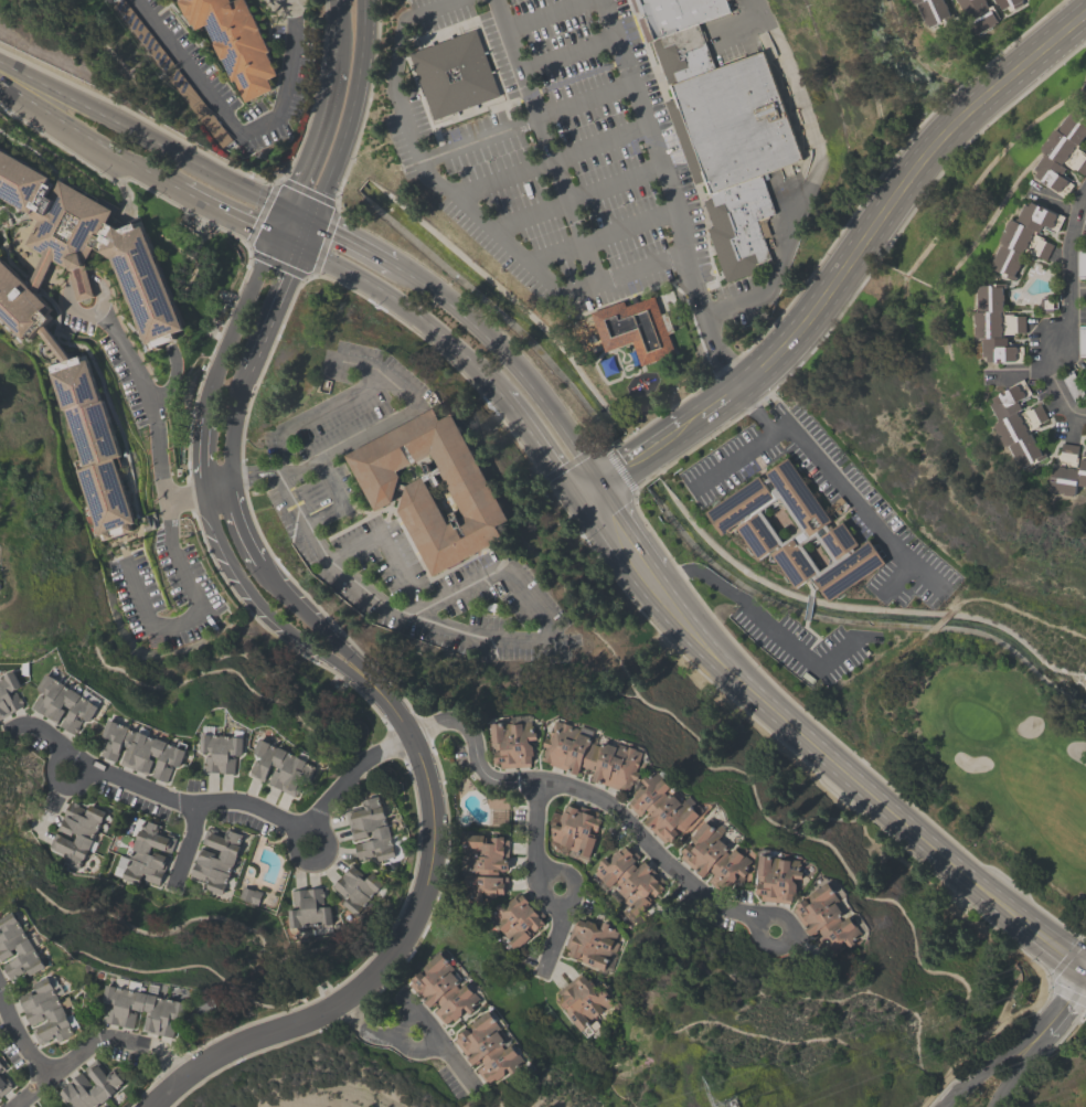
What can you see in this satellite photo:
building: (170, 0)
building: (1008, 3)
road: (437, 9)
building: (933, 11)
building: (979, 14)
road: (555, 15)
building: (675, 15)
road: (338, 33)
building: (232, 43)
road: (396, 56)
road: (569, 56)
building: (682, 56)
building: (453, 74)
building: (1083, 95)
road: (586, 103)
road: (646, 125)
building: (731, 125)
road: (345, 128)
road: (235, 131)
road: (411, 131)
road: (145, 137)
road: (86, 140)
road: (318, 141)
road: (600, 147)
building: (1062, 153)
parking lot: (563, 157)
road: (809, 175)
road: (505, 180)
road: (614, 188)
road: (449, 190)
road: (907, 190)
building: (737, 202)
traffic signals: (288, 212)
road: (226, 214)
road: (299, 217)
road: (531, 219)
traffic signals: (310, 223)
road: (281, 225)
road: (628, 226)
traffic signals: (275, 238)
building: (1023, 238)
road: (353, 242)
building: (89, 243)
road: (287, 244)
building: (738, 247)
traffic signals: (299, 249)
road: (585, 257)
road: (77, 279)
building: (79, 286)
road: (558, 291)
road: (1077, 292)
building: (18, 304)
road: (89, 310)
road: (1069, 310)
road: (406, 311)
building: (994, 324)
building: (638, 345)
road: (514, 361)
road: (174, 382)
road: (146, 397)
road: (724, 402)
road: (693, 423)
building: (1016, 424)
road: (366, 426)
building: (88, 440)
road: (540, 448)
road: (734, 457)
road: (638, 460)
building: (1067, 471)
road: (835, 479)
traffic signals: (592, 492)
road: (199, 493)
road: (231, 496)
road: (339, 496)
building: (471, 496)
road: (209, 501)
building: (754, 529)
road: (619, 533)
road: (386, 539)
road: (196, 609)
road: (403, 613)
road: (757, 617)
building: (9, 693)
building: (62, 702)
road: (397, 716)
park: (983, 739)
building: (512, 743)
building: (140, 751)
road: (1074, 752)
building: (220, 753)
road: (75, 756)
building: (590, 757)
road: (55, 763)
building: (279, 768)
road: (351, 771)
road: (858, 779)
road: (151, 791)
road: (585, 791)
building: (663, 809)
road: (535, 829)
road: (302, 830)
building: (370, 830)
building: (76, 831)
building: (574, 832)
road: (188, 843)
building: (140, 852)
building: (714, 859)
building: (214, 861)
building: (486, 865)
road: (545, 877)
building: (777, 879)
building: (629, 881)
building: (355, 887)
building: (249, 894)
building: (307, 908)
building: (517, 918)
building: (826, 920)
road: (554, 934)
building: (590, 943)
road: (768, 946)
building: (18, 949)
road: (373, 976)
building: (443, 991)
road: (1066, 999)
building: (582, 1001)
building: (141, 1010)
building: (46, 1012)
road: (426, 1024)
road: (19, 1039)
road: (387, 1040)
road: (93, 1041)
road: (1030, 1042)
building: (488, 1050)
building: (1, 1067)
road: (462, 1074)
road: (994, 1082)
road: (1000, 1082)
building: (108, 1083)
building: (3, 1084)
power tower: (731, 1106)

